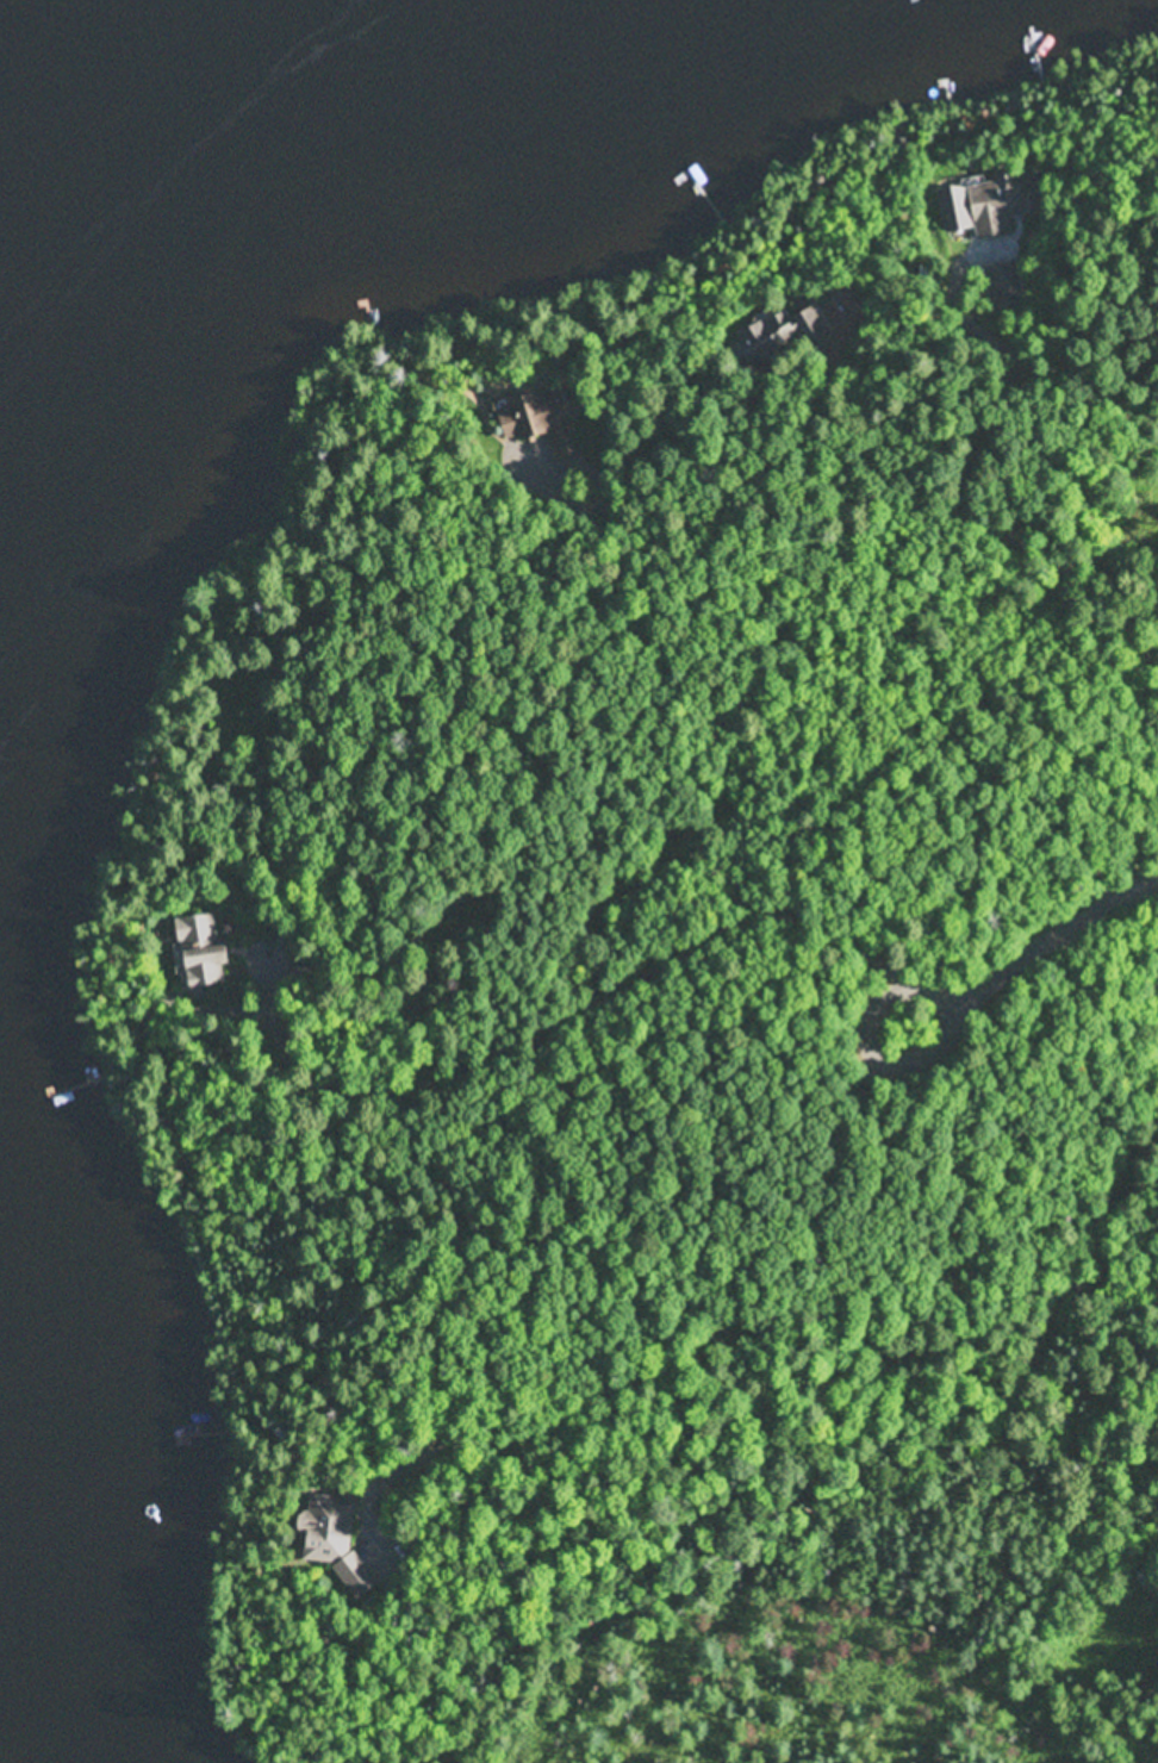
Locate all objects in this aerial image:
building: (546, 410)
road: (1122, 461)
road: (1061, 930)
building: (199, 943)
road: (902, 1046)

